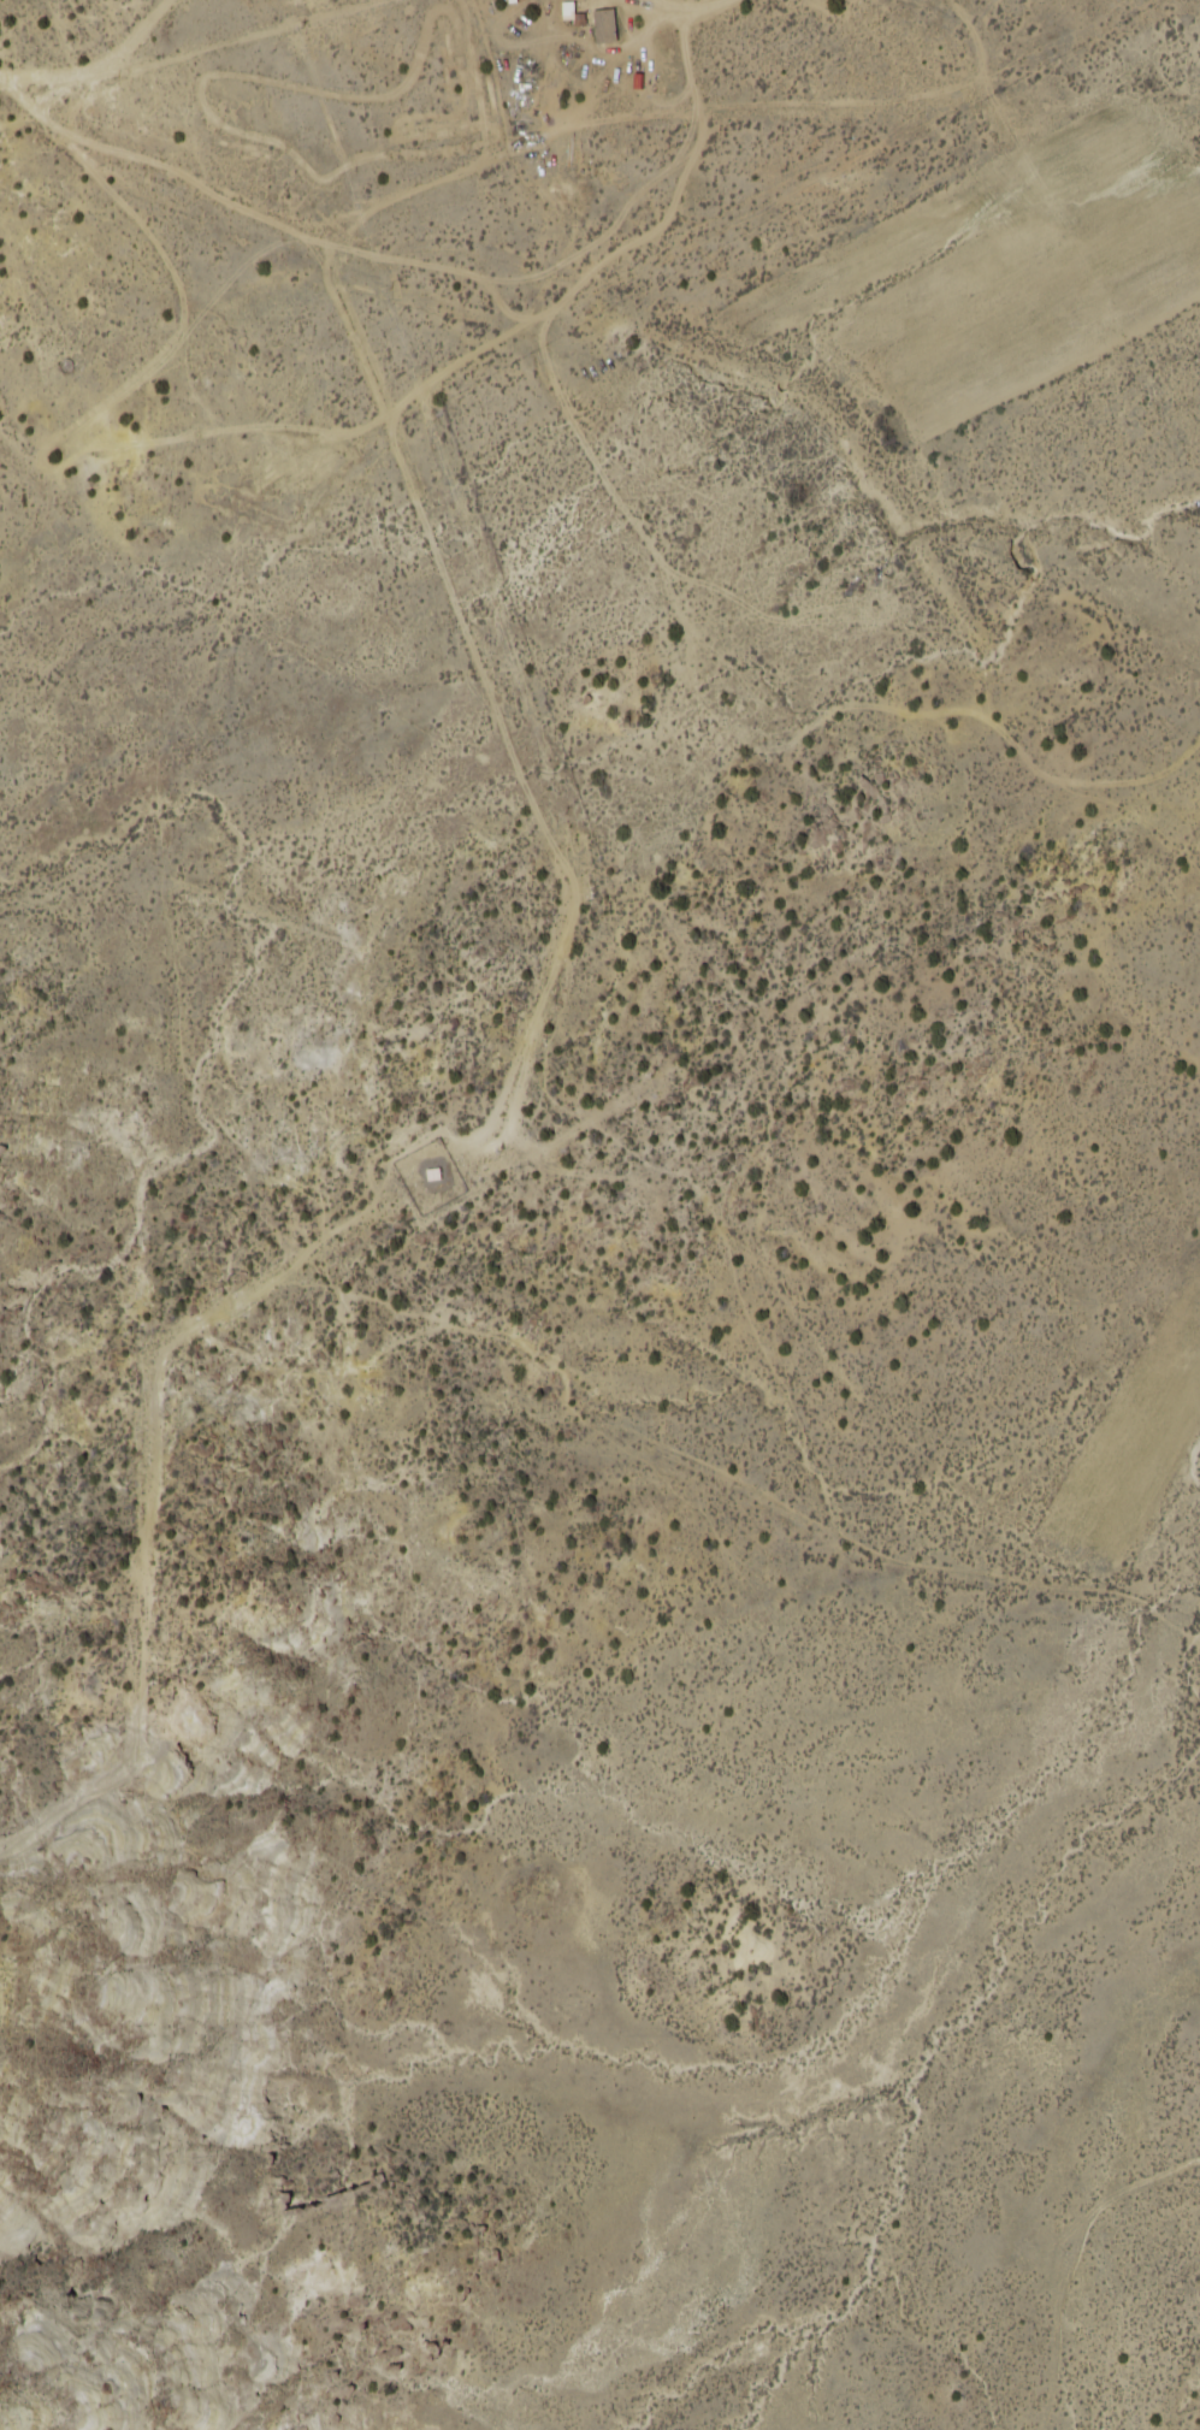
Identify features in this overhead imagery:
road: (102, 69)
road: (394, 199)
road: (144, 1542)

